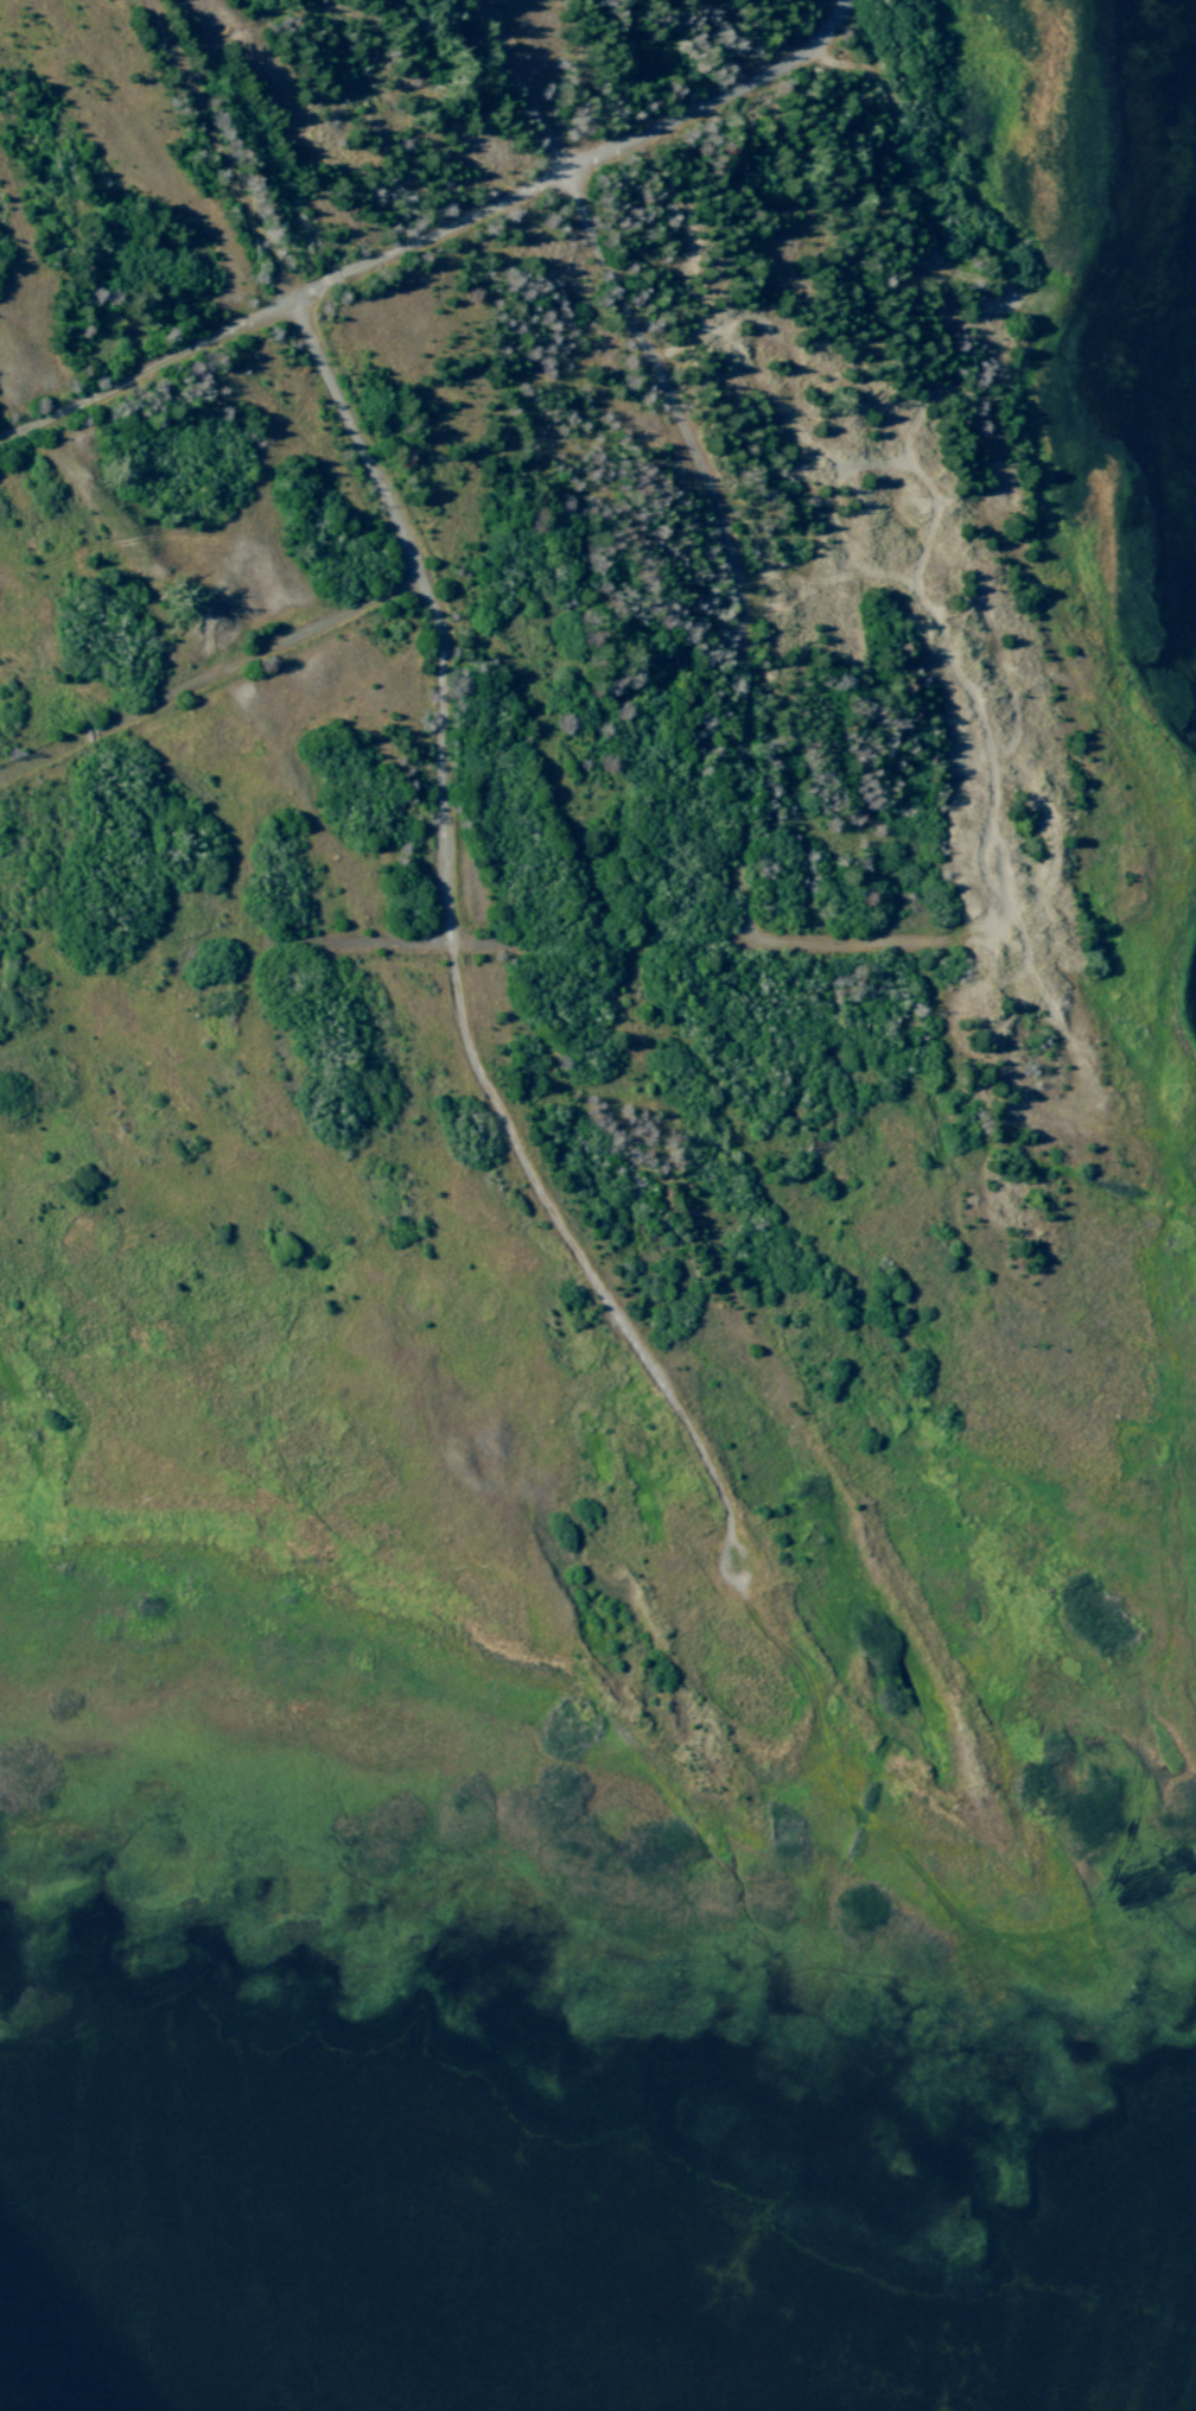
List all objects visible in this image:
road: (850, 0)
road: (437, 239)
road: (693, 446)
road: (367, 453)
road: (212, 681)
road: (599, 939)
road: (355, 940)
road: (847, 940)
road: (580, 1258)

